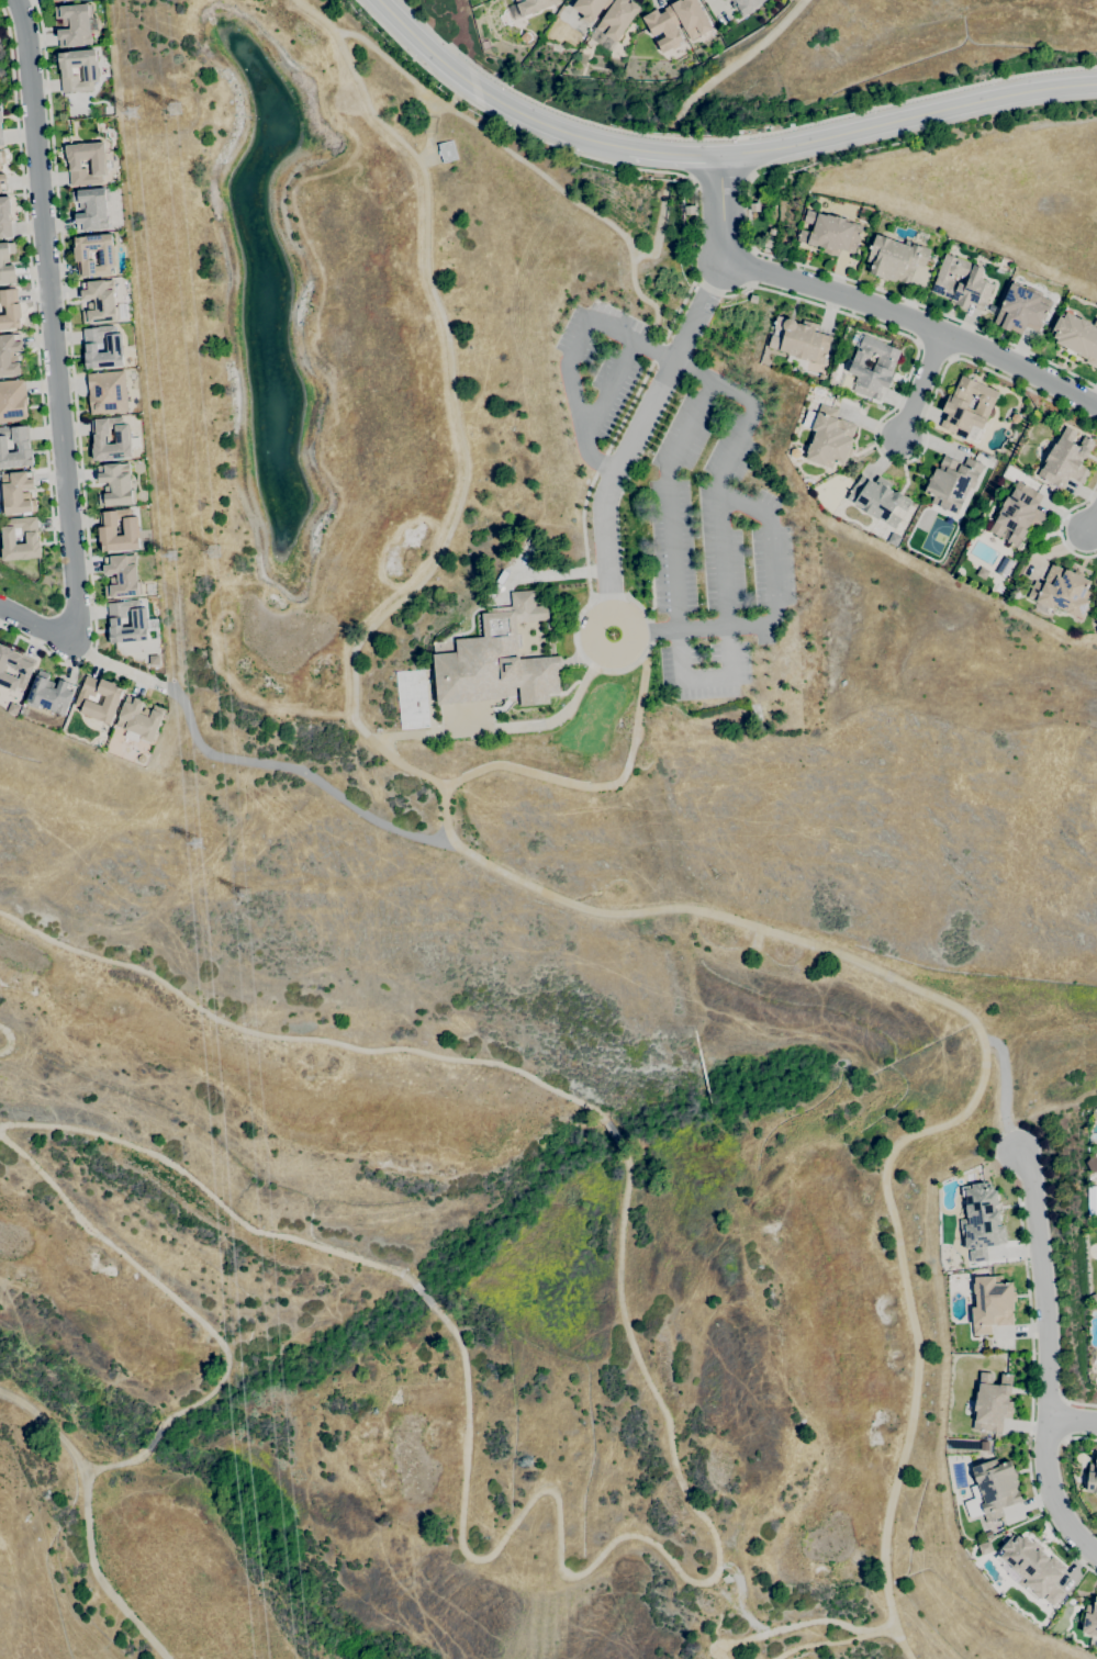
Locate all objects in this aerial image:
building: (58, 0)
building: (71, 0)
building: (533, 5)
building: (745, 5)
building: (607, 14)
building: (676, 22)
building: (74, 24)
road: (735, 65)
building: (89, 71)
road: (489, 94)
power tower: (172, 109)
power tower: (133, 113)
road: (908, 124)
building: (1, 128)
road: (732, 137)
building: (447, 152)
road: (672, 153)
building: (2, 157)
building: (98, 165)
road: (531, 167)
road: (668, 173)
road: (718, 176)
building: (2, 181)
building: (754, 208)
building: (91, 209)
building: (690, 210)
road: (747, 212)
building: (4, 217)
road: (658, 227)
building: (771, 232)
building: (830, 233)
building: (768, 244)
building: (82, 256)
building: (895, 259)
building: (2, 264)
road: (30, 274)
building: (961, 282)
building: (753, 299)
building: (99, 302)
road: (865, 307)
building: (1021, 309)
building: (10, 310)
road: (930, 310)
road: (49, 321)
building: (1076, 336)
building: (799, 339)
building: (114, 348)
building: (10, 356)
road: (572, 356)
building: (873, 367)
parking lot: (597, 372)
road: (72, 379)
road: (921, 386)
road: (609, 389)
building: (107, 393)
building: (12, 401)
building: (955, 404)
road: (928, 406)
road: (456, 413)
road: (638, 427)
building: (830, 438)
building: (122, 439)
building: (23, 446)
building: (1065, 460)
building: (952, 482)
building: (115, 484)
building: (16, 493)
road: (667, 500)
building: (877, 500)
road: (716, 511)
building: (1018, 514)
road: (1092, 522)
road: (1061, 525)
building: (107, 531)
building: (32, 539)
road: (46, 542)
parking lot: (714, 543)
power tower: (213, 552)
power tower: (171, 557)
road: (768, 561)
building: (121, 576)
building: (1062, 591)
building: (138, 623)
road: (40, 626)
road: (624, 655)
building: (497, 660)
building: (14, 669)
road: (702, 676)
building: (49, 694)
building: (111, 699)
building: (139, 719)
road: (503, 727)
road: (247, 761)
power tower: (195, 847)
power tower: (244, 895)
road: (865, 966)
park: (430, 1031)
road: (296, 1038)
road: (9, 1040)
road: (1004, 1089)
road: (613, 1134)
building: (1092, 1164)
road: (209, 1193)
road: (1009, 1207)
building: (981, 1221)
road: (152, 1279)
road: (1042, 1281)
road: (422, 1294)
building: (992, 1303)
road: (1031, 1393)
road: (1065, 1400)
building: (992, 1403)
road: (1082, 1404)
road: (1064, 1420)
road: (1073, 1420)
road: (154, 1438)
road: (1082, 1438)
road: (1065, 1439)
building: (982, 1445)
road: (115, 1465)
building: (1092, 1478)
building: (995, 1488)
road: (1051, 1494)
road: (87, 1518)
road: (635, 1535)
building: (1032, 1568)
road: (740, 1596)
building: (1090, 1619)
road: (783, 1628)
road: (881, 1629)
road: (820, 1643)

